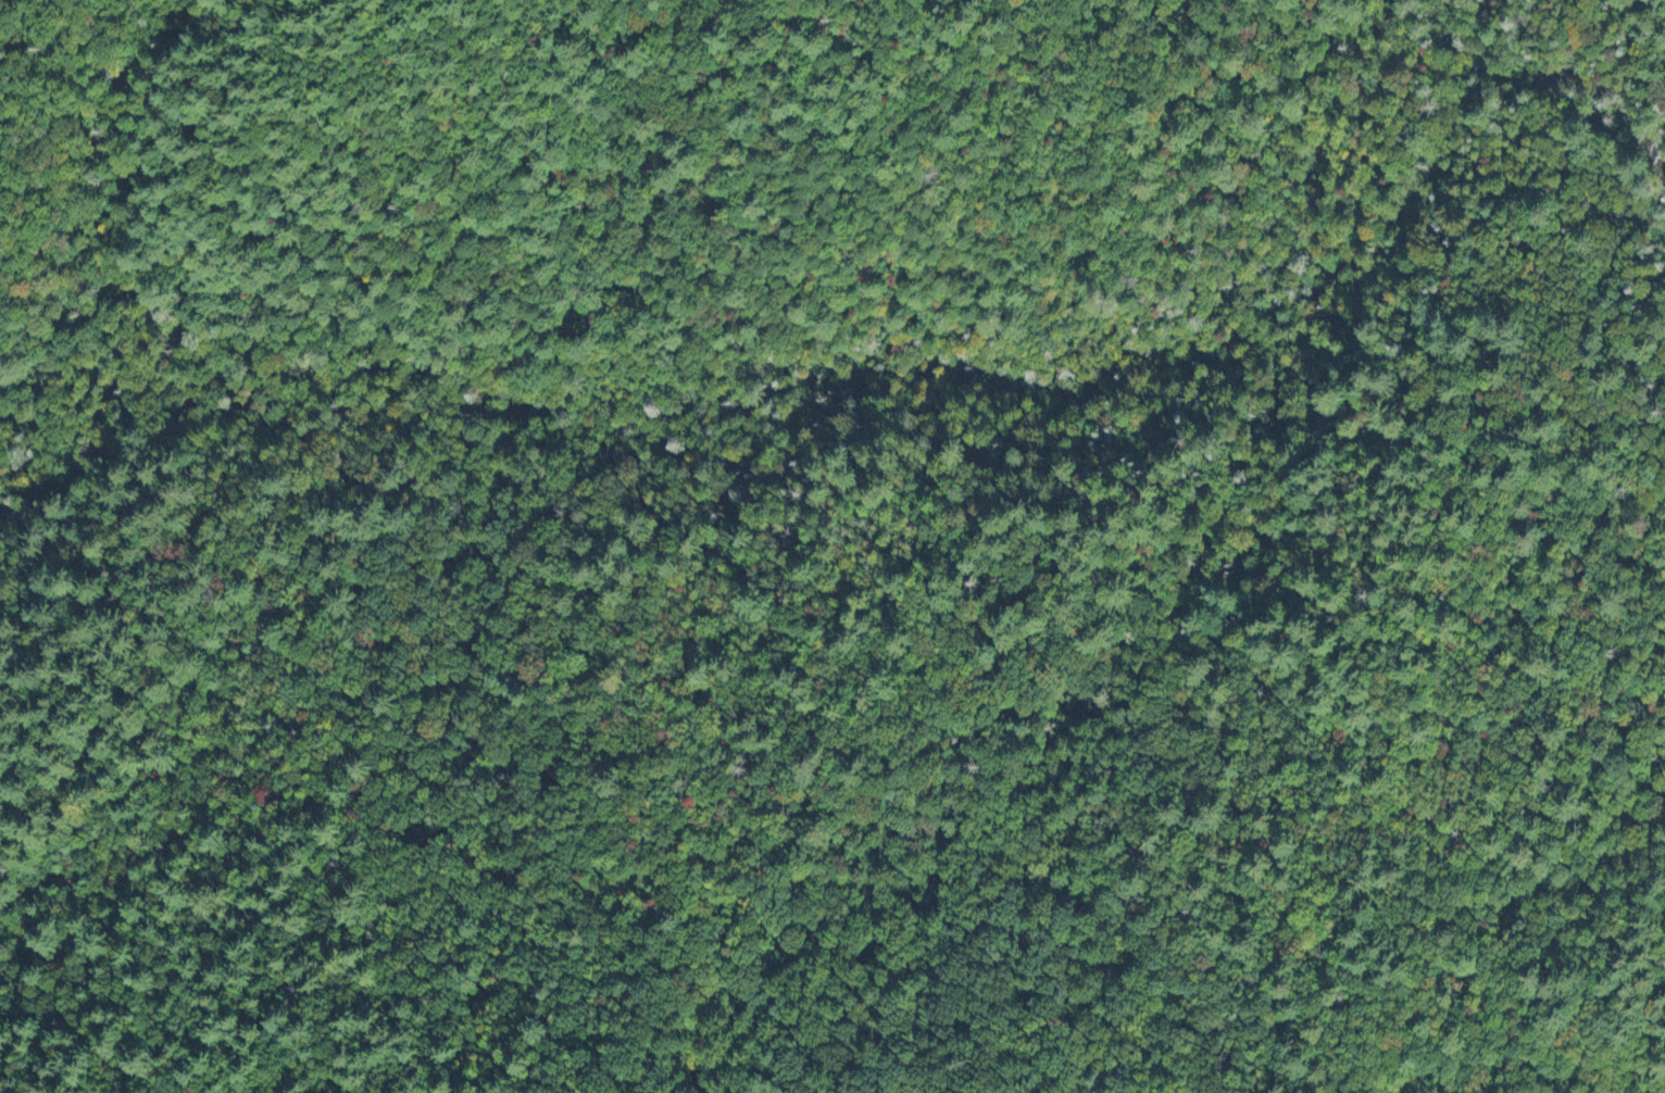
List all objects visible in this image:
river: (1462, 55)
river: (1604, 108)
road: (1324, 163)
road: (1548, 531)
road: (1623, 1078)

